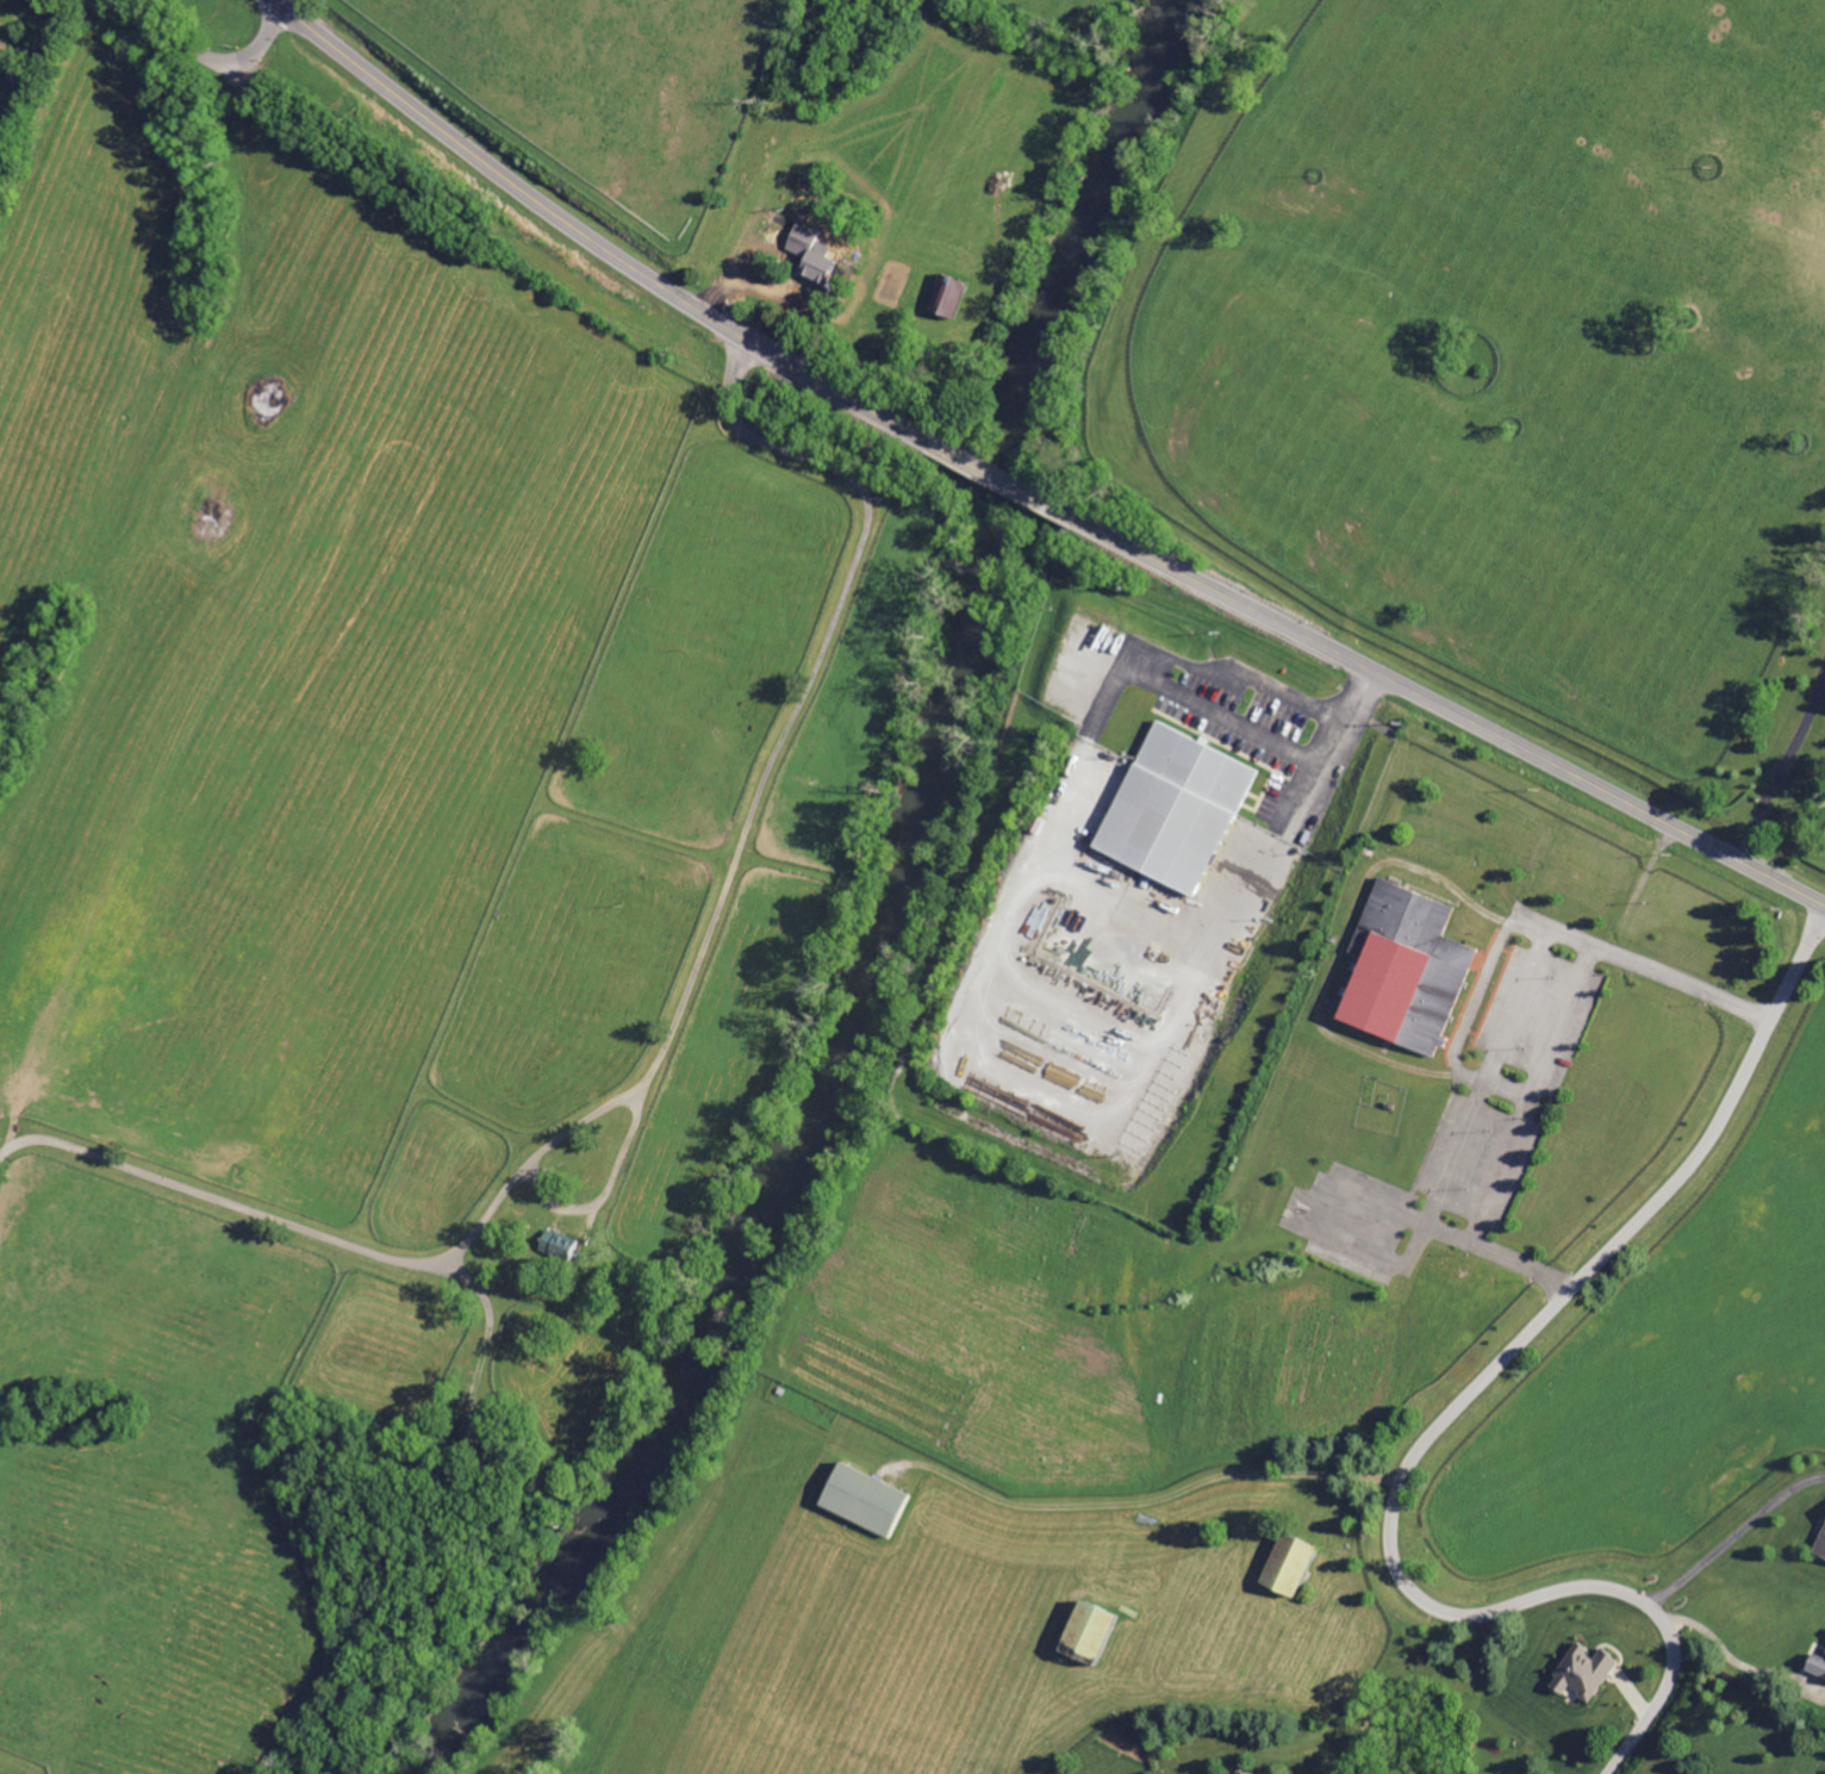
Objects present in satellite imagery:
road: (285, 2)
road: (204, 56)
road: (591, 239)
building: (812, 267)
building: (946, 295)
road: (1005, 480)
road: (1166, 665)
road: (1453, 710)
road: (1332, 748)
road: (1783, 767)
building: (1172, 807)
road: (1084, 884)
river: (903, 920)
road: (1341, 945)
building: (1406, 967)
road: (1481, 991)
road: (675, 1026)
road: (1502, 1040)
road: (1530, 1095)
road: (606, 1190)
building: (559, 1244)
road: (491, 1325)
road: (1446, 1417)
building: (860, 1498)
road: (1146, 1501)
road: (1733, 1538)
building: (1821, 1546)
building: (1284, 1563)
building: (1084, 1627)
road: (1730, 1657)
building: (1818, 1666)
building: (1580, 1672)
building: (1250, 1773)

